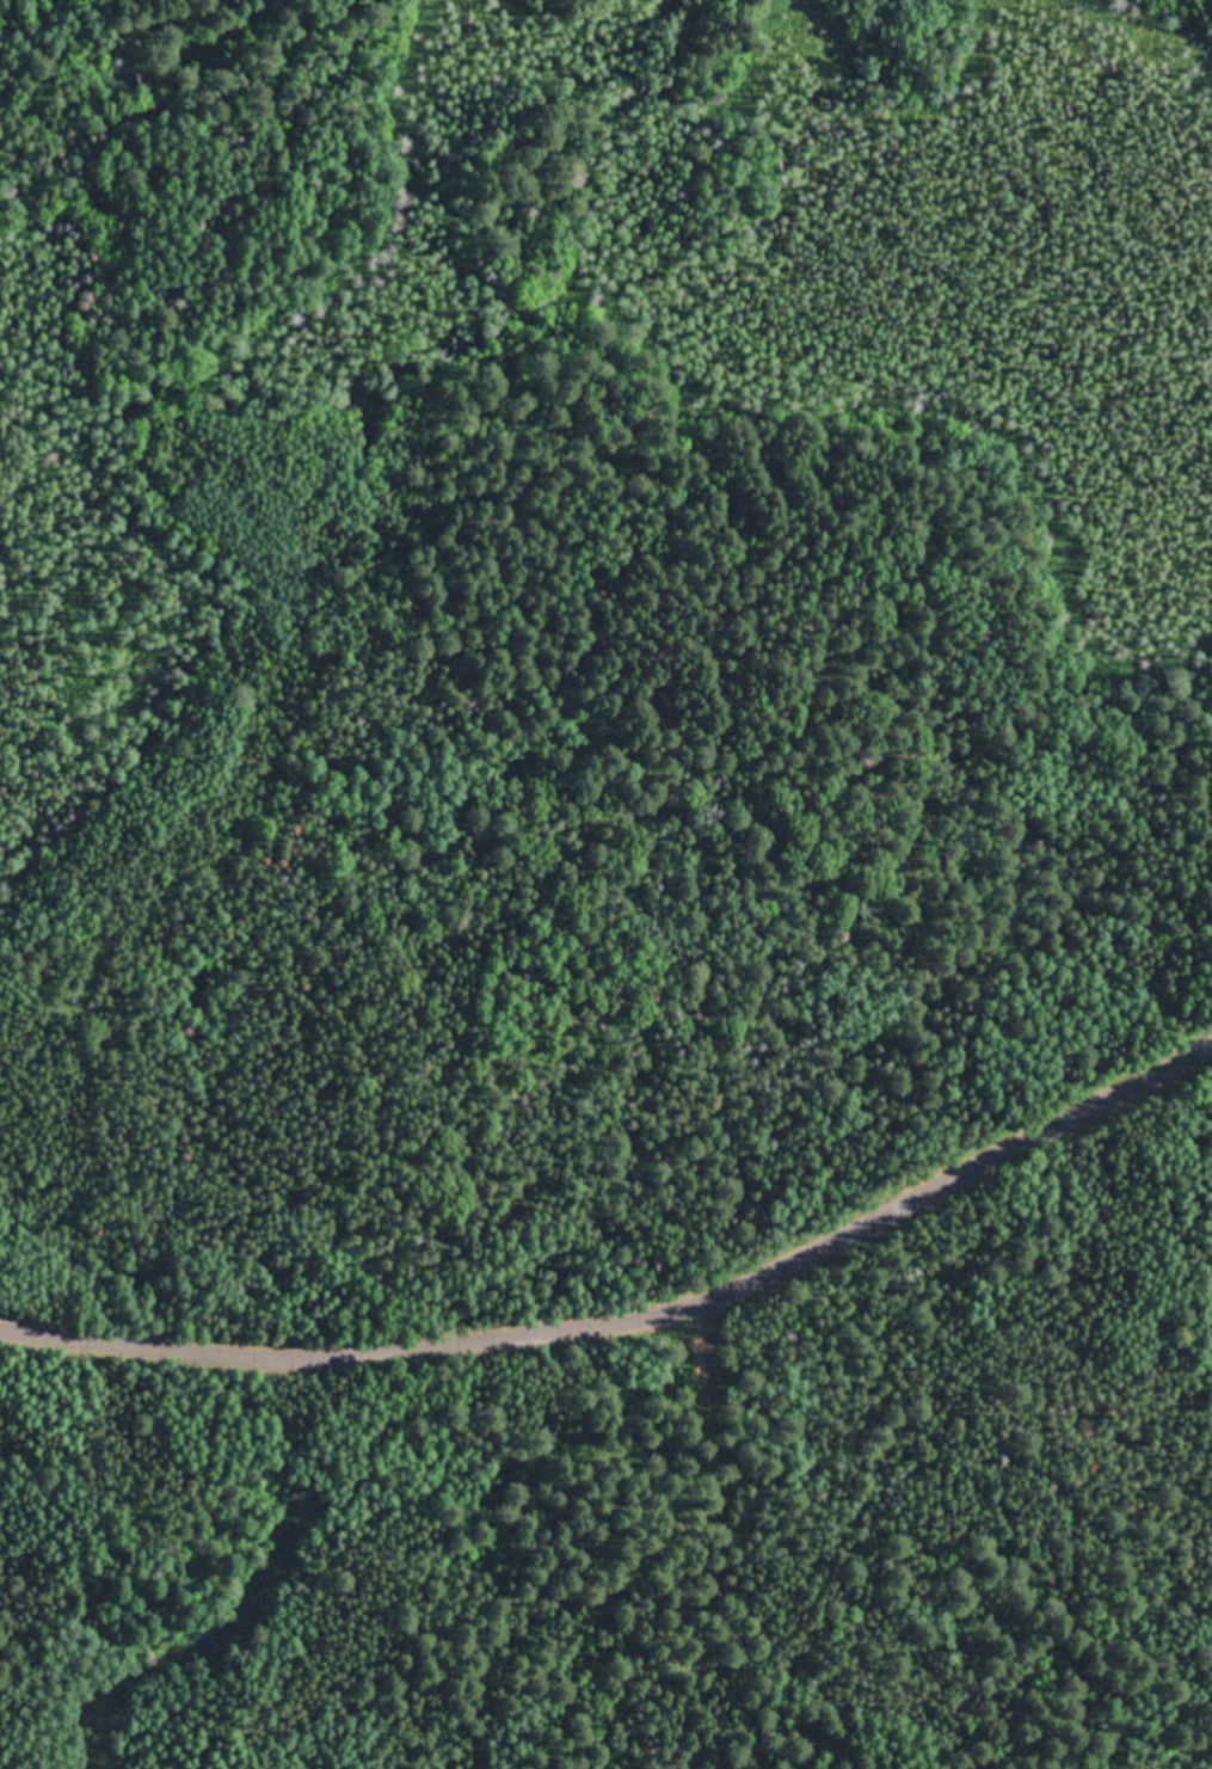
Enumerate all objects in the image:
road: (632, 1303)

